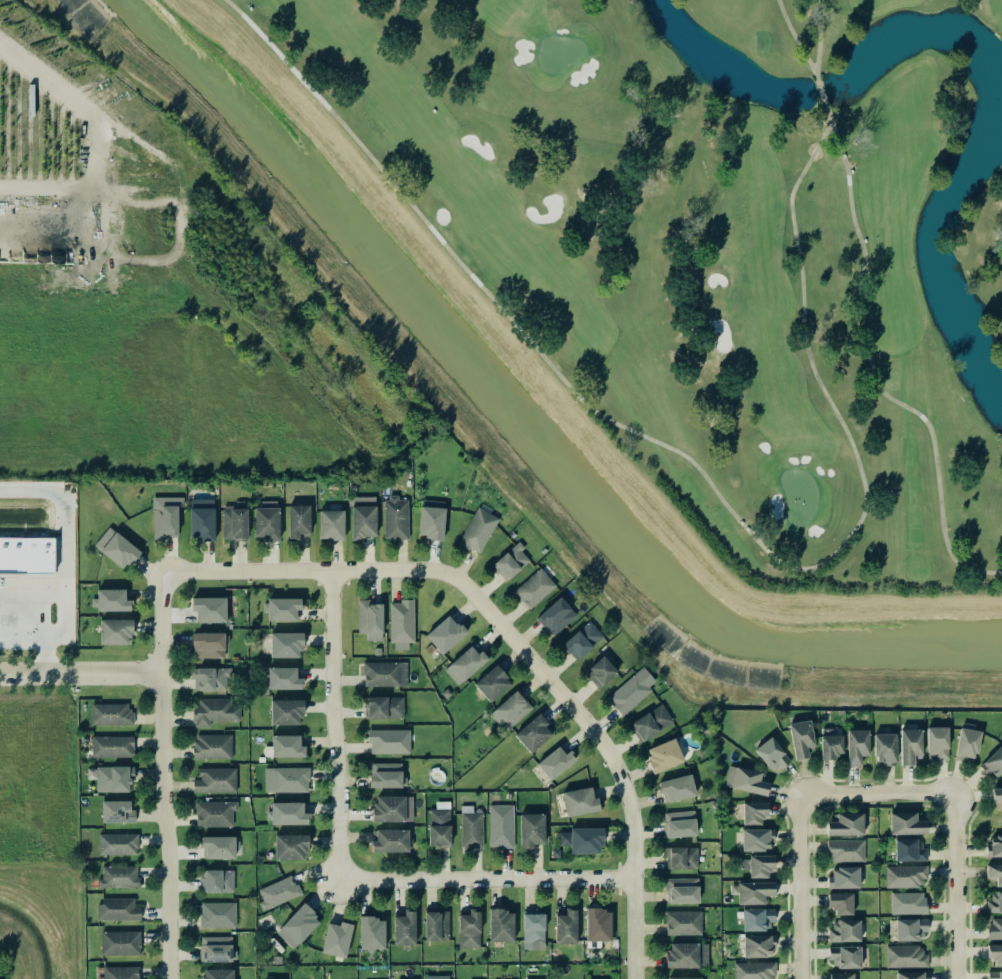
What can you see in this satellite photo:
road: (92, 179)
road: (187, 197)
park: (712, 242)
park: (720, 245)
building: (165, 516)
building: (363, 516)
building: (201, 518)
building: (395, 518)
building: (431, 519)
building: (266, 520)
building: (298, 520)
building: (234, 521)
building: (331, 524)
building: (477, 530)
road: (65, 538)
building: (116, 548)
building: (26, 554)
building: (510, 561)
building: (534, 588)
road: (32, 594)
building: (111, 600)
building: (282, 608)
building: (208, 609)
building: (555, 616)
building: (369, 619)
building: (401, 624)
road: (44, 631)
building: (115, 631)
building: (444, 633)
road: (514, 639)
building: (581, 640)
building: (285, 644)
building: (207, 645)
building: (464, 664)
building: (600, 670)
road: (81, 673)
building: (384, 673)
building: (210, 678)
building: (282, 678)
building: (492, 683)
building: (628, 694)
building: (384, 707)
building: (510, 709)
building: (214, 710)
building: (285, 711)
building: (110, 714)
building: (651, 722)
road: (339, 725)
building: (533, 733)
building: (801, 738)
building: (388, 741)
building: (937, 741)
building: (967, 742)
building: (829, 745)
building: (856, 745)
building: (910, 745)
building: (112, 746)
building: (212, 746)
building: (286, 746)
building: (884, 748)
building: (664, 754)
building: (772, 754)
building: (554, 761)
building: (993, 762)
building: (385, 774)
road: (163, 777)
building: (113, 778)
building: (286, 779)
building: (215, 780)
building: (745, 780)
building: (676, 788)
road: (876, 792)
building: (997, 796)
building: (579, 801)
building: (389, 808)
building: (116, 811)
building: (754, 812)
building: (214, 813)
building: (287, 813)
building: (679, 823)
building: (906, 823)
building: (439, 824)
building: (845, 824)
building: (500, 825)
building: (470, 827)
building: (530, 829)
building: (581, 839)
building: (756, 839)
building: (389, 840)
building: (117, 843)
building: (217, 846)
building: (290, 846)
building: (994, 846)
building: (844, 850)
building: (909, 850)
building: (681, 858)
building: (758, 865)
building: (118, 876)
building: (905, 876)
building: (844, 877)
road: (489, 879)
building: (216, 880)
road: (956, 885)
road: (800, 886)
building: (681, 890)
building: (277, 891)
building: (753, 891)
building: (994, 901)
building: (840, 902)
building: (907, 902)
building: (118, 909)
building: (217, 914)
building: (756, 918)
building: (684, 922)
building: (501, 924)
building: (598, 924)
building: (436, 925)
building: (297, 926)
building: (565, 927)
building: (404, 928)
building: (909, 928)
building: (469, 929)
building: (533, 929)
building: (844, 930)
building: (371, 933)
building: (336, 938)
building: (120, 942)
building: (757, 945)
building: (215, 948)
building: (995, 953)
building: (682, 955)
building: (845, 956)
building: (905, 956)
building: (753, 969)
building: (120, 972)
building: (216, 973)
building: (994, 974)
building: (841, 975)
building: (910, 975)
building: (436, 977)
building: (682, 977)

